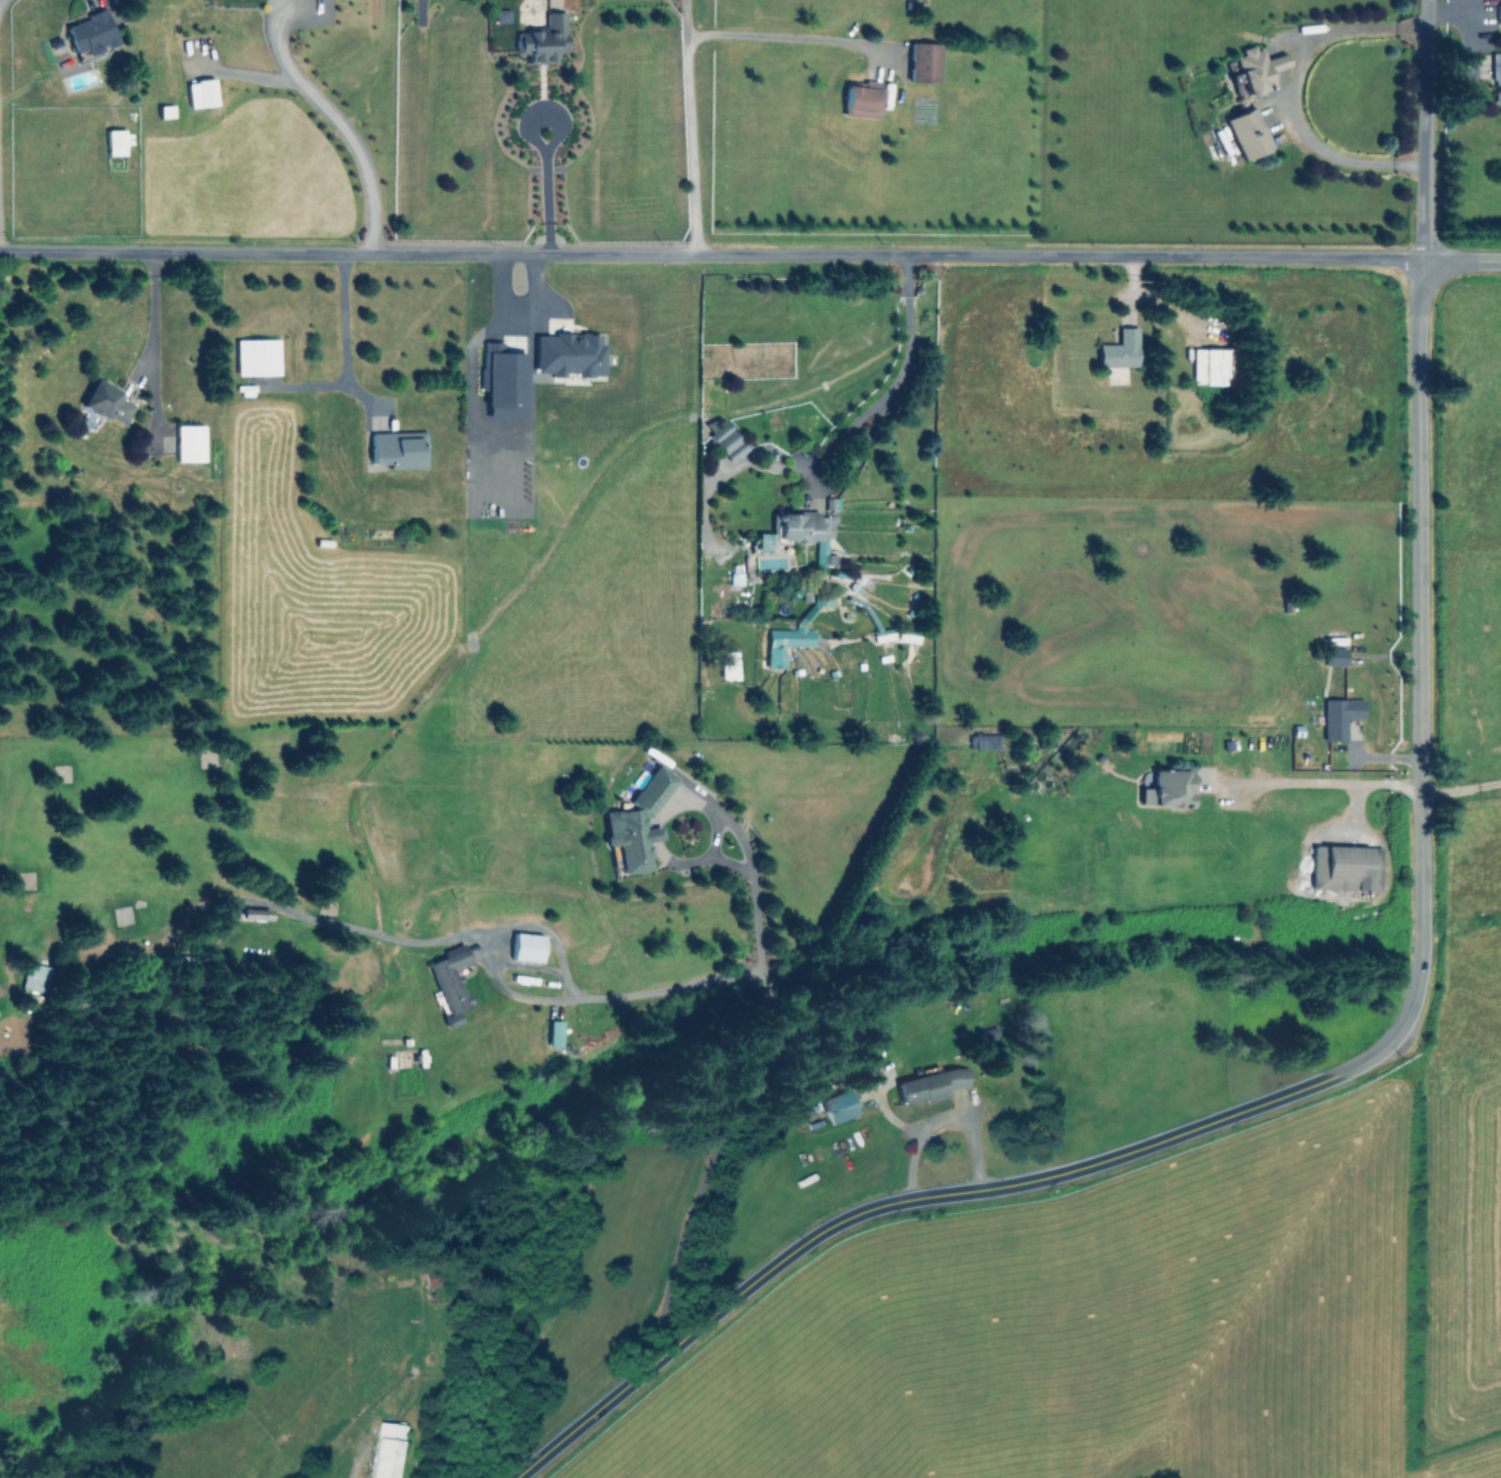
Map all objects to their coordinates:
building: (1500, 14)
building: (89, 31)
road: (775, 33)
building: (540, 39)
road: (1288, 90)
building: (200, 93)
building: (854, 96)
road: (339, 124)
road: (687, 127)
road: (1422, 130)
building: (115, 142)
road: (549, 146)
road: (709, 255)
road: (1460, 260)
road: (151, 316)
road: (343, 334)
building: (1120, 350)
building: (569, 354)
building: (256, 357)
building: (1208, 366)
building: (503, 376)
building: (106, 402)
building: (725, 438)
road: (863, 440)
building: (189, 443)
building: (398, 449)
building: (805, 533)
building: (763, 542)
road: (1419, 597)
building: (823, 598)
building: (784, 643)
building: (1334, 656)
building: (1339, 716)
building: (984, 741)
road: (1319, 783)
building: (1167, 788)
building: (635, 824)
road: (653, 835)
road: (715, 835)
road: (699, 859)
building: (1345, 868)
building: (526, 947)
building: (450, 981)
road: (617, 1007)
road: (760, 1039)
building: (931, 1085)
building: (839, 1106)
road: (942, 1123)
road: (977, 1190)
building: (431, 1277)
building: (387, 1450)
road: (357, 1460)

